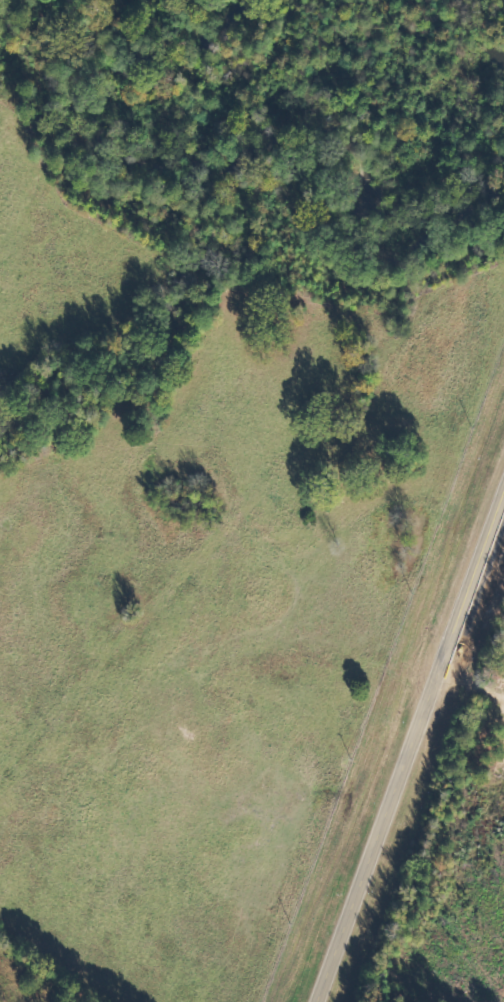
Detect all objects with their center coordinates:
road: (191, 747)
road: (411, 751)

